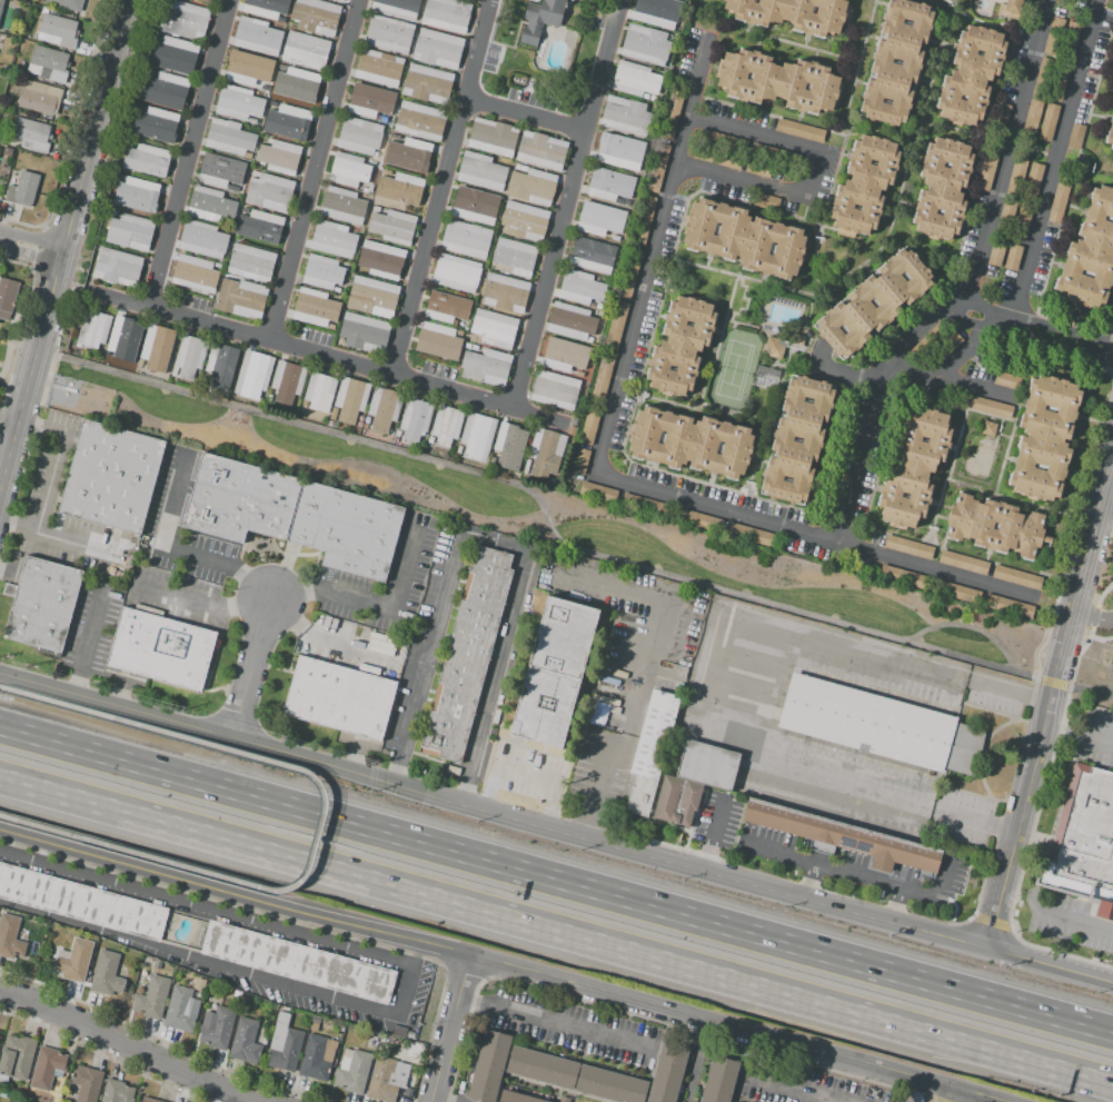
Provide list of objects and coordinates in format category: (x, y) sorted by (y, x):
building: (207, 0)
building: (337, 0)
building: (1, 4)
building: (66, 4)
building: (397, 7)
building: (268, 8)
building: (1012, 9)
building: (656, 12)
building: (794, 13)
building: (446, 14)
building: (315, 16)
building: (183, 20)
building: (539, 20)
building: (57, 31)
building: (389, 34)
building: (257, 37)
building: (645, 46)
building: (437, 49)
building: (306, 51)
building: (175, 54)
building: (912, 62)
building: (48, 63)
building: (379, 68)
building: (248, 70)
road: (859, 76)
building: (971, 76)
building: (634, 79)
building: (778, 82)
building: (428, 83)
building: (298, 85)
building: (166, 90)
building: (39, 97)
building: (644, 97)
building: (653, 99)
building: (370, 100)
building: (238, 102)
building: (1112, 106)
building: (1001, 115)
building: (625, 116)
building: (1032, 119)
road: (523, 120)
building: (251, 121)
building: (419, 121)
building: (289, 122)
building: (1049, 122)
building: (156, 125)
building: (799, 130)
building: (1110, 132)
road: (765, 133)
building: (31, 135)
building: (360, 136)
building: (1075, 136)
building: (493, 137)
building: (228, 138)
building: (615, 149)
building: (541, 150)
road: (1007, 152)
road: (190, 156)
building: (248, 156)
building: (411, 156)
building: (279, 157)
building: (146, 160)
building: (629, 167)
road: (1056, 167)
building: (349, 170)
building: (985, 170)
building: (219, 171)
building: (480, 171)
road: (316, 172)
building: (386, 172)
building: (125, 178)
building: (1015, 178)
building: (1032, 182)
building: (609, 185)
building: (864, 185)
building: (232, 187)
building: (531, 187)
building: (22, 189)
building: (400, 189)
road: (439, 189)
building: (944, 191)
building: (269, 192)
road: (773, 193)
building: (1059, 196)
building: (139, 197)
building: (622, 202)
building: (210, 205)
building: (342, 205)
road: (566, 205)
building: (475, 206)
building: (379, 209)
building: (245, 210)
building: (600, 219)
building: (1005, 219)
building: (524, 221)
building: (1021, 224)
building: (259, 227)
building: (392, 227)
building: (129, 231)
building: (615, 238)
building: (202, 239)
building: (332, 239)
building: (465, 239)
building: (744, 239)
road: (63, 244)
road: (30, 245)
building: (772, 249)
building: (996, 252)
building: (592, 255)
building: (1091, 255)
building: (514, 257)
building: (1013, 258)
building: (380, 260)
road: (650, 260)
building: (251, 262)
building: (117, 267)
building: (321, 271)
building: (456, 272)
building: (197, 274)
building: (580, 287)
building: (504, 292)
building: (7, 297)
building: (241, 298)
building: (374, 298)
building: (888, 304)
building: (598, 306)
building: (315, 307)
building: (446, 307)
building: (572, 321)
building: (93, 328)
building: (494, 329)
building: (364, 332)
road: (1033, 335)
building: (123, 337)
building: (438, 341)
building: (159, 344)
building: (936, 345)
building: (680, 346)
building: (774, 348)
park: (4, 350)
road: (300, 353)
building: (563, 355)
building: (190, 356)
building: (221, 365)
building: (486, 366)
road: (947, 368)
park: (731, 369)
building: (252, 374)
building: (1006, 380)
building: (287, 381)
road: (971, 384)
building: (554, 389)
building: (320, 391)
building: (350, 398)
building: (987, 406)
building: (384, 408)
road: (872, 408)
building: (334, 414)
building: (415, 418)
road: (9, 420)
building: (366, 423)
building: (445, 425)
building: (587, 426)
building: (988, 428)
building: (570, 430)
building: (397, 433)
building: (477, 436)
building: (1044, 437)
building: (430, 440)
building: (783, 440)
building: (690, 443)
building: (509, 446)
building: (458, 449)
building: (545, 453)
building: (579, 460)
building: (526, 466)
building: (914, 468)
road: (49, 475)
building: (111, 480)
building: (598, 493)
building: (239, 502)
building: (640, 505)
road: (716, 510)
road: (1107, 513)
road: (546, 517)
building: (692, 518)
park: (558, 522)
building: (971, 526)
building: (346, 530)
building: (749, 534)
road: (490, 543)
building: (908, 547)
building: (963, 563)
road: (226, 568)
road: (937, 573)
building: (902, 576)
building: (1016, 577)
building: (955, 592)
road: (370, 604)
building: (43, 605)
road: (217, 605)
building: (1008, 606)
road: (1057, 606)
park: (1104, 607)
road: (1094, 617)
road: (302, 627)
road: (965, 627)
road: (1092, 628)
road: (87, 644)
building: (160, 651)
building: (467, 655)
building: (555, 675)
road: (255, 676)
road: (752, 685)
road: (1008, 689)
road: (21, 697)
building: (337, 698)
road: (1050, 708)
building: (598, 714)
building: (880, 725)
road: (628, 728)
road: (1104, 728)
road: (1079, 737)
building: (649, 754)
building: (706, 765)
building: (667, 797)
road: (491, 815)
parking lot: (718, 818)
road: (973, 820)
road: (8, 821)
flagpole: (680, 832)
road: (714, 835)
road: (318, 837)
building: (841, 837)
building: (1082, 841)
road: (855, 873)
road: (556, 880)
building: (82, 902)
road: (206, 907)
road: (1077, 922)
road: (556, 930)
building: (10, 936)
road: (473, 955)
building: (73, 960)
building: (298, 962)
road: (1050, 965)
road: (236, 967)
building: (107, 973)
building: (152, 997)
building: (181, 1010)
road: (554, 1024)
building: (217, 1027)
road: (448, 1027)
building: (245, 1041)
road: (128, 1046)
building: (286, 1051)
building: (17, 1056)
building: (314, 1059)
building: (47, 1066)
building: (488, 1066)
building: (540, 1068)
building: (666, 1072)
building: (354, 1073)
building: (386, 1079)
building: (719, 1079)
building: (87, 1083)
building: (610, 1084)
road: (789, 1090)
building: (117, 1092)
road: (941, 1096)
road: (961, 1096)
building: (516, 1098)
building: (148, 1100)

